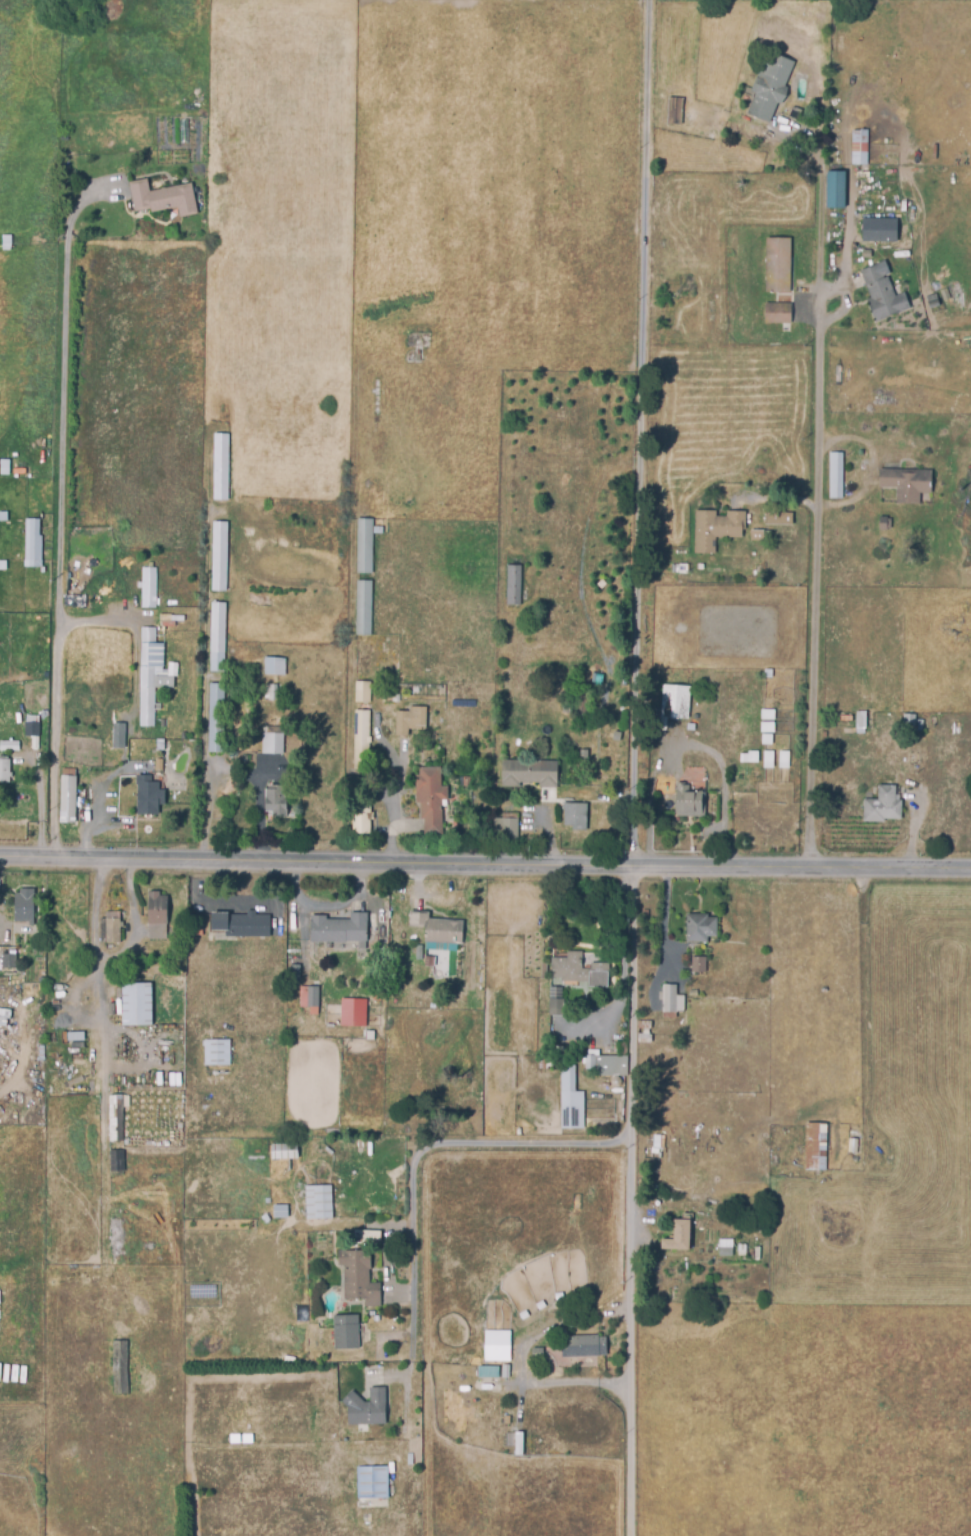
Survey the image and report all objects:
building: (768, 88)
building: (674, 110)
building: (858, 148)
building: (834, 189)
building: (162, 198)
building: (877, 229)
building: (776, 264)
building: (881, 294)
building: (943, 294)
building: (930, 300)
building: (776, 314)
road: (640, 432)
building: (220, 465)
building: (835, 477)
building: (904, 486)
road: (814, 507)
road: (66, 511)
building: (777, 521)
building: (715, 531)
building: (30, 539)
building: (363, 545)
building: (218, 554)
building: (512, 583)
building: (149, 588)
building: (368, 597)
building: (216, 636)
building: (273, 665)
building: (361, 675)
building: (147, 676)
building: (270, 691)
building: (582, 695)
building: (674, 703)
building: (214, 716)
building: (408, 719)
building: (860, 722)
building: (31, 725)
building: (908, 725)
building: (688, 726)
building: (119, 731)
building: (360, 738)
building: (269, 740)
building: (8, 745)
road: (709, 755)
building: (3, 768)
building: (528, 772)
building: (465, 781)
building: (147, 794)
building: (66, 795)
building: (429, 796)
building: (275, 798)
building: (687, 804)
road: (396, 808)
building: (881, 808)
building: (573, 814)
building: (358, 815)
building: (508, 825)
road: (720, 829)
road: (485, 865)
building: (23, 904)
building: (156, 916)
building: (111, 921)
road: (132, 921)
building: (239, 925)
building: (436, 928)
building: (338, 929)
building: (698, 929)
building: (208, 937)
road: (92, 955)
building: (7, 960)
building: (697, 965)
building: (541, 968)
building: (577, 971)
building: (374, 997)
building: (308, 998)
building: (554, 1001)
building: (668, 1001)
building: (135, 1003)
building: (351, 1012)
building: (643, 1034)
building: (363, 1035)
building: (75, 1037)
building: (215, 1052)
building: (606, 1069)
building: (568, 1098)
building: (114, 1118)
building: (656, 1145)
building: (815, 1146)
road: (418, 1149)
building: (115, 1160)
building: (317, 1201)
road: (629, 1201)
building: (278, 1210)
building: (264, 1215)
building: (365, 1234)
building: (678, 1238)
building: (116, 1242)
building: (723, 1247)
building: (357, 1276)
building: (344, 1332)
building: (495, 1345)
building: (581, 1345)
road: (519, 1359)
building: (119, 1367)
building: (485, 1371)
building: (367, 1409)
building: (40, 1422)
road: (403, 1422)
building: (259, 1438)
building: (371, 1484)

